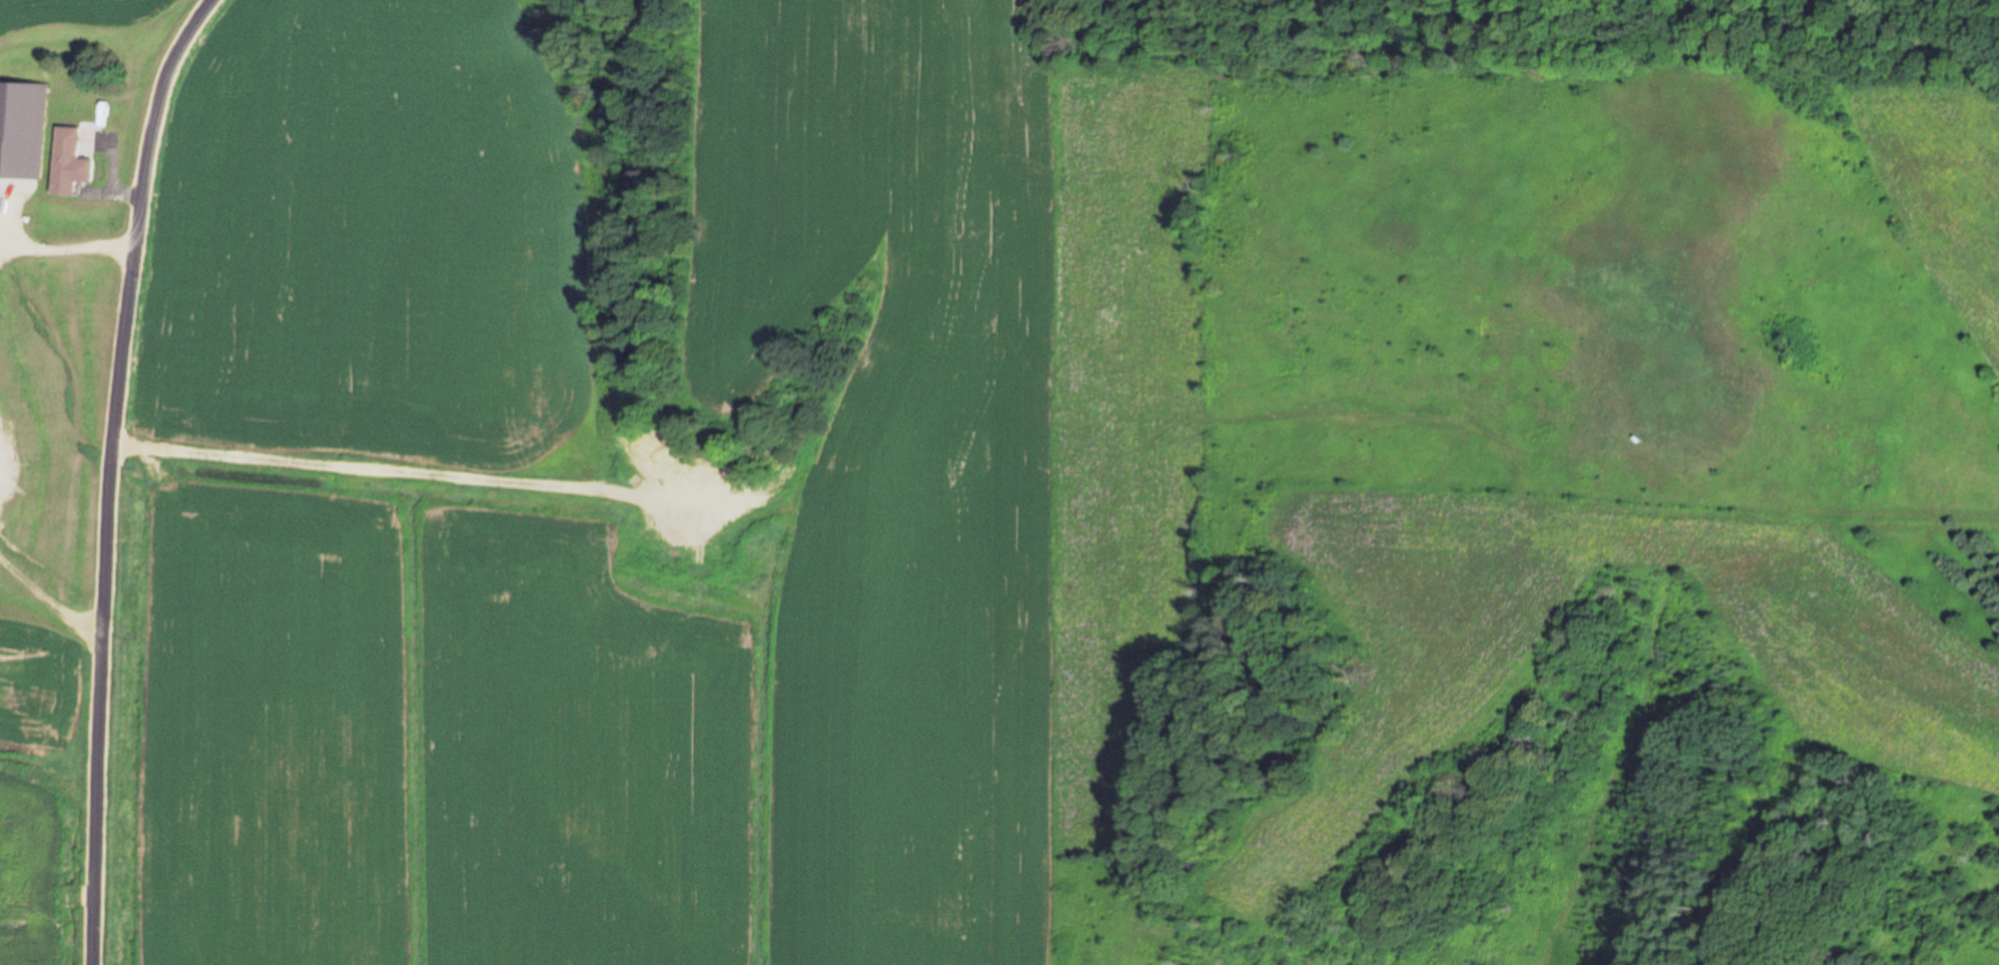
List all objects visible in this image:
building: (17, 124)
building: (74, 164)
building: (83, 224)
road: (67, 247)
road: (111, 473)
road: (49, 600)

